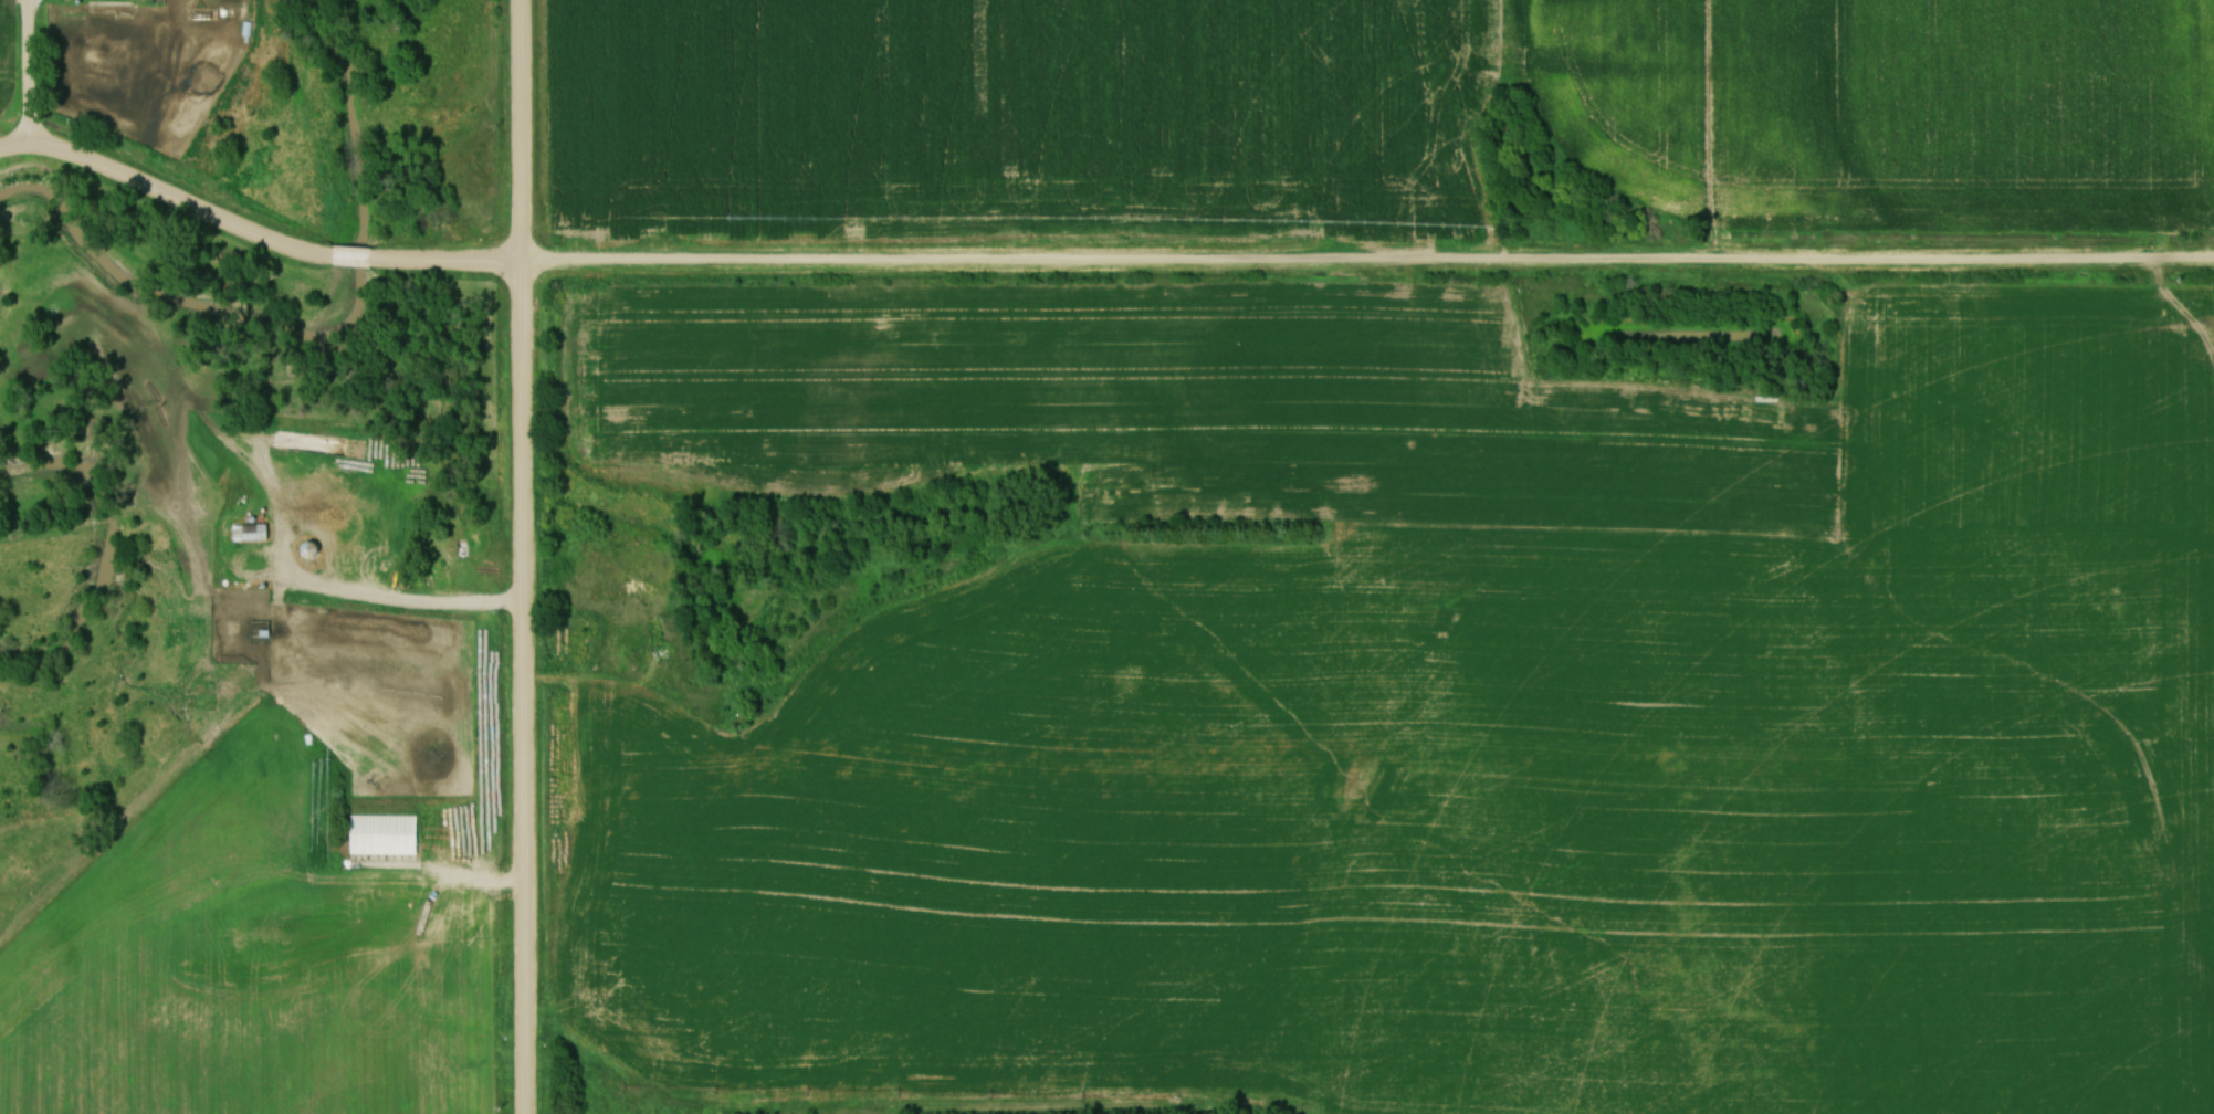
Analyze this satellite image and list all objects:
road: (29, 73)
road: (511, 133)
road: (1095, 261)
building: (252, 534)
road: (398, 600)
building: (262, 629)
road: (520, 690)
building: (386, 834)

